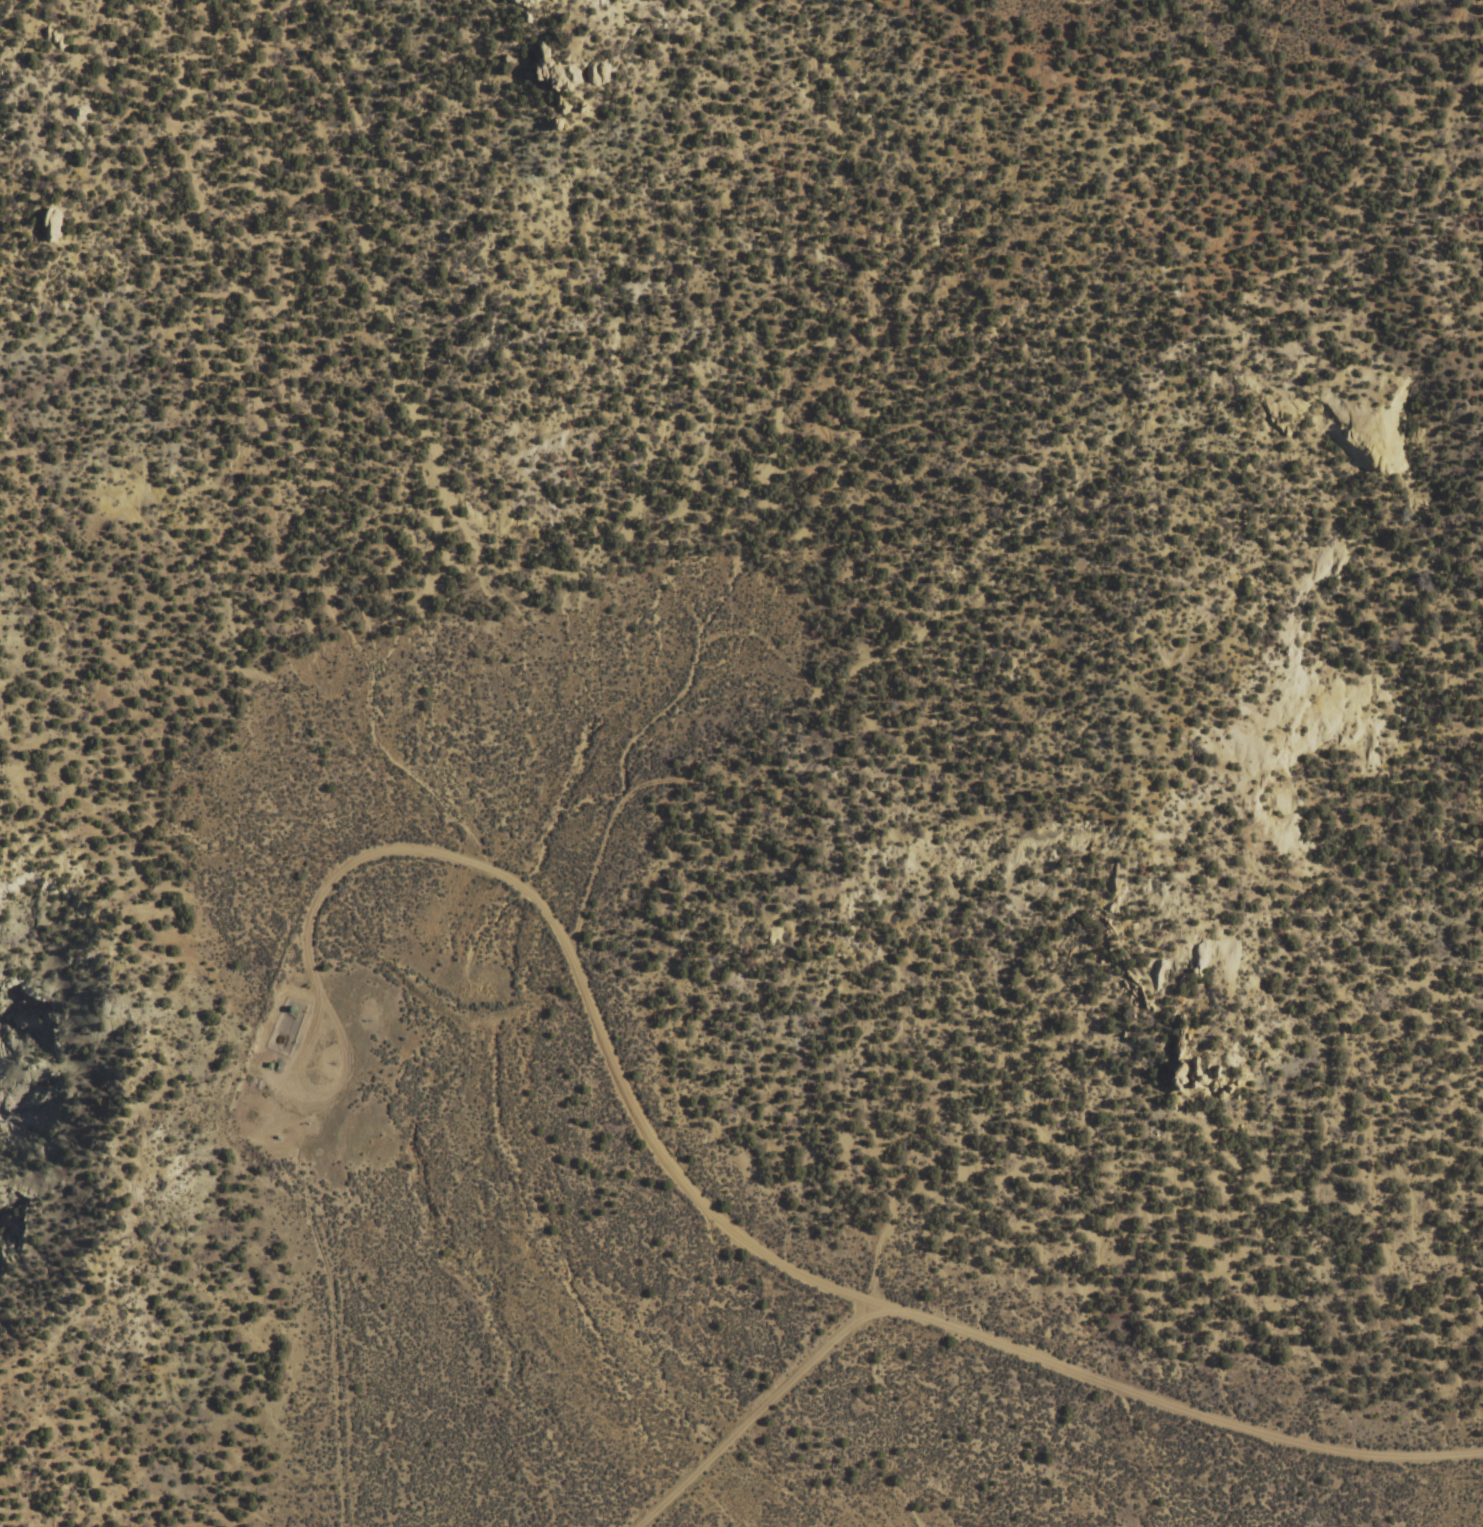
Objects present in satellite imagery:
road: (1078, 1347)

